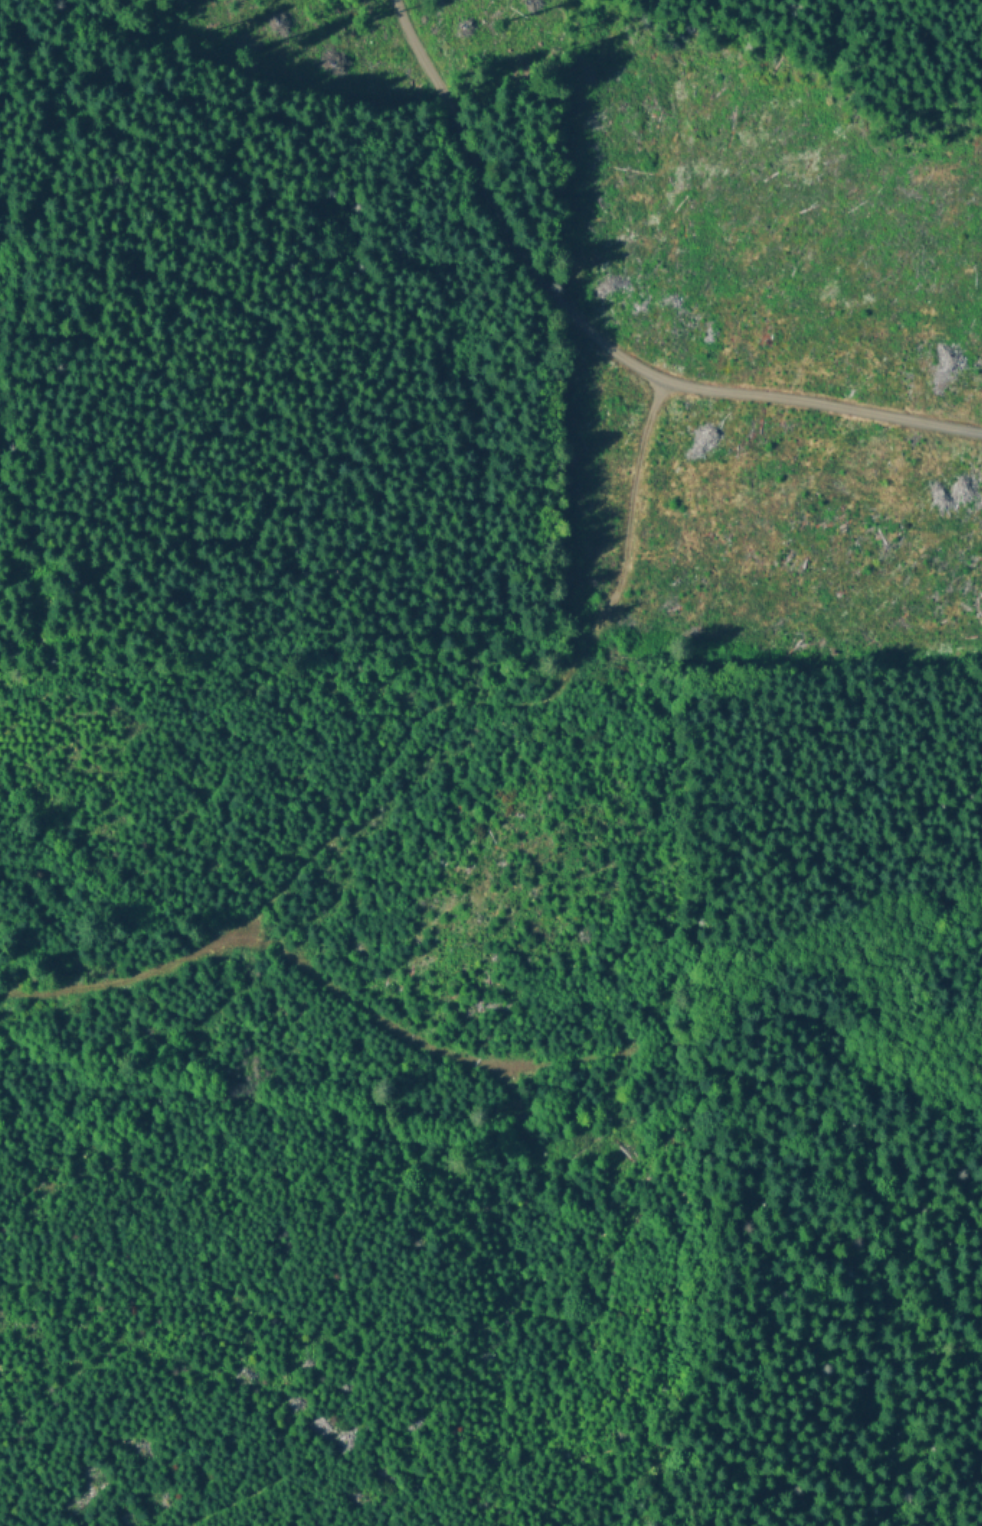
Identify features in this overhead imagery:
road: (599, 342)
road: (97, 966)

